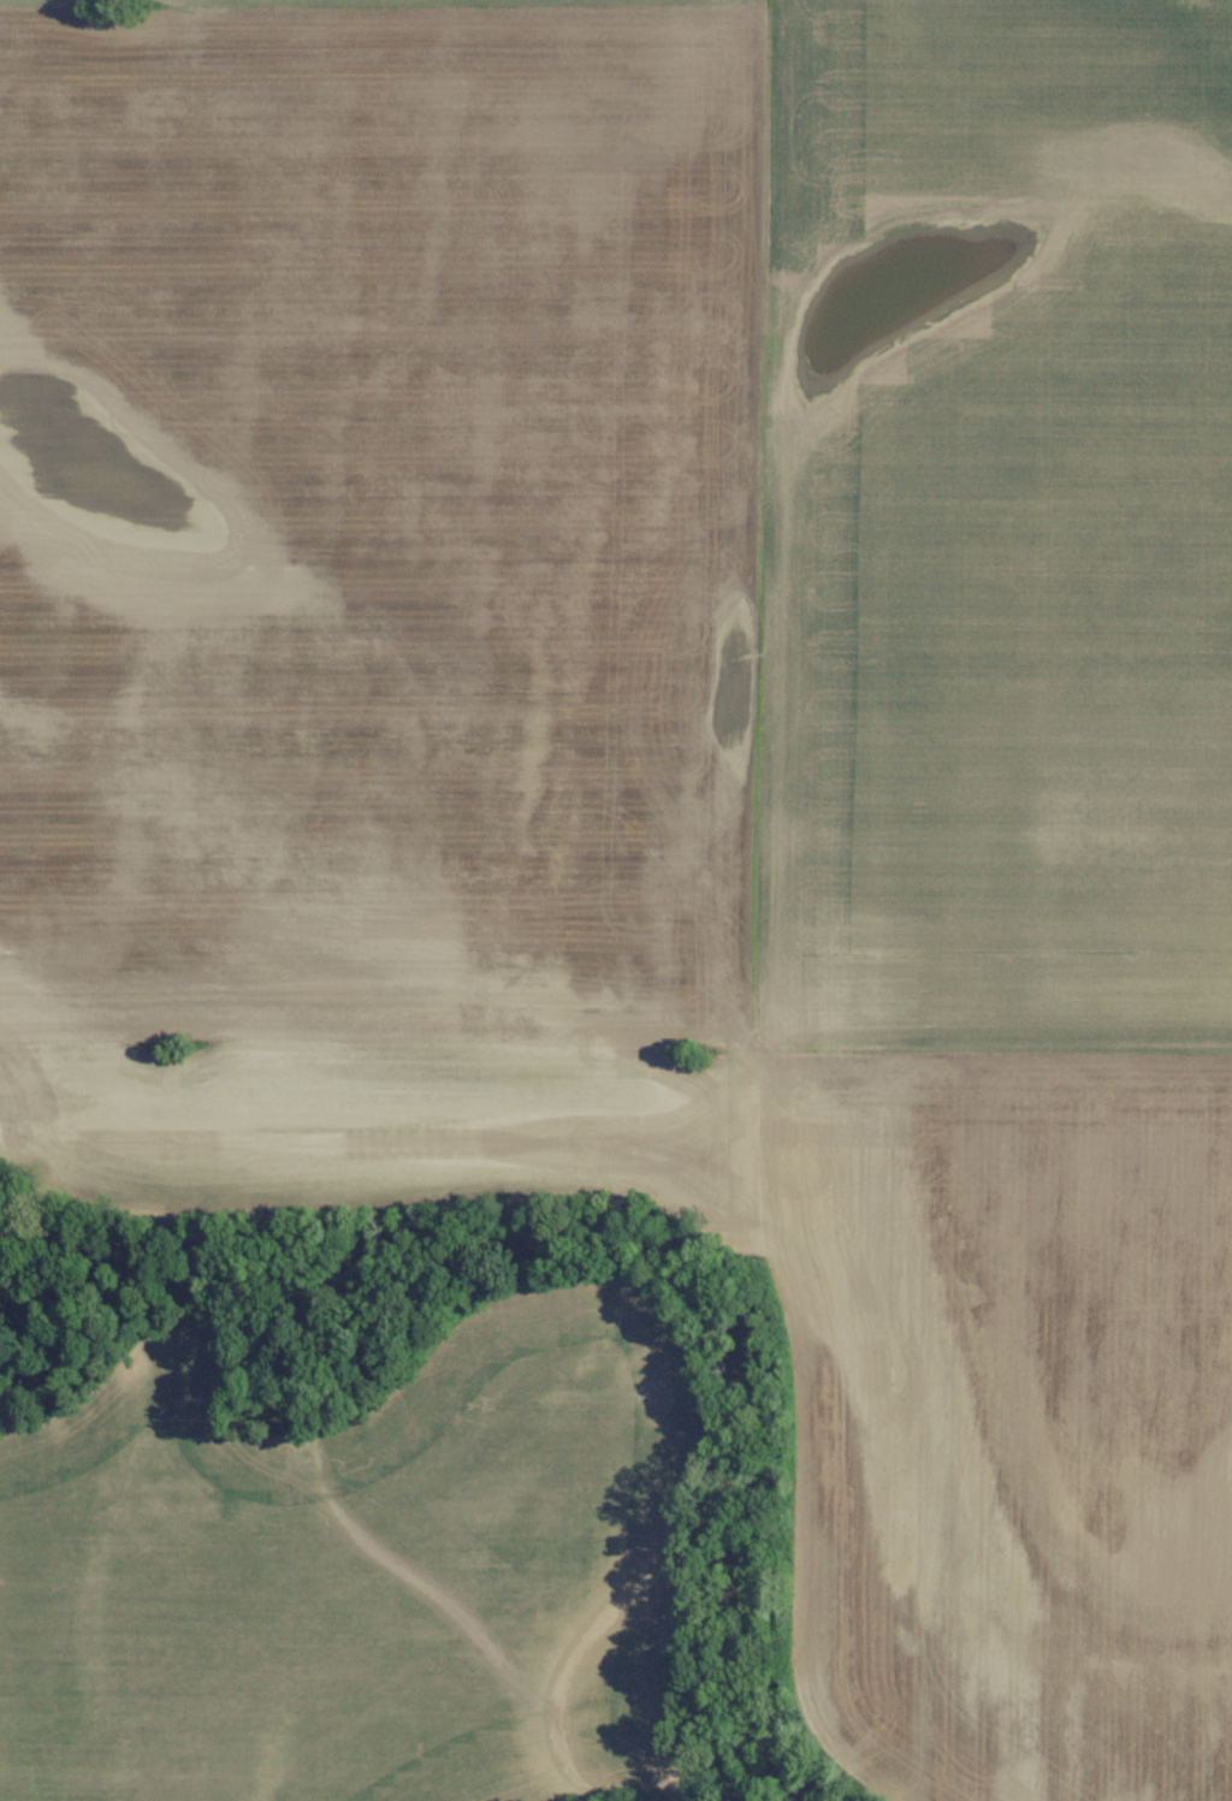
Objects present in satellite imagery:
road: (759, 526)
road: (972, 1051)

